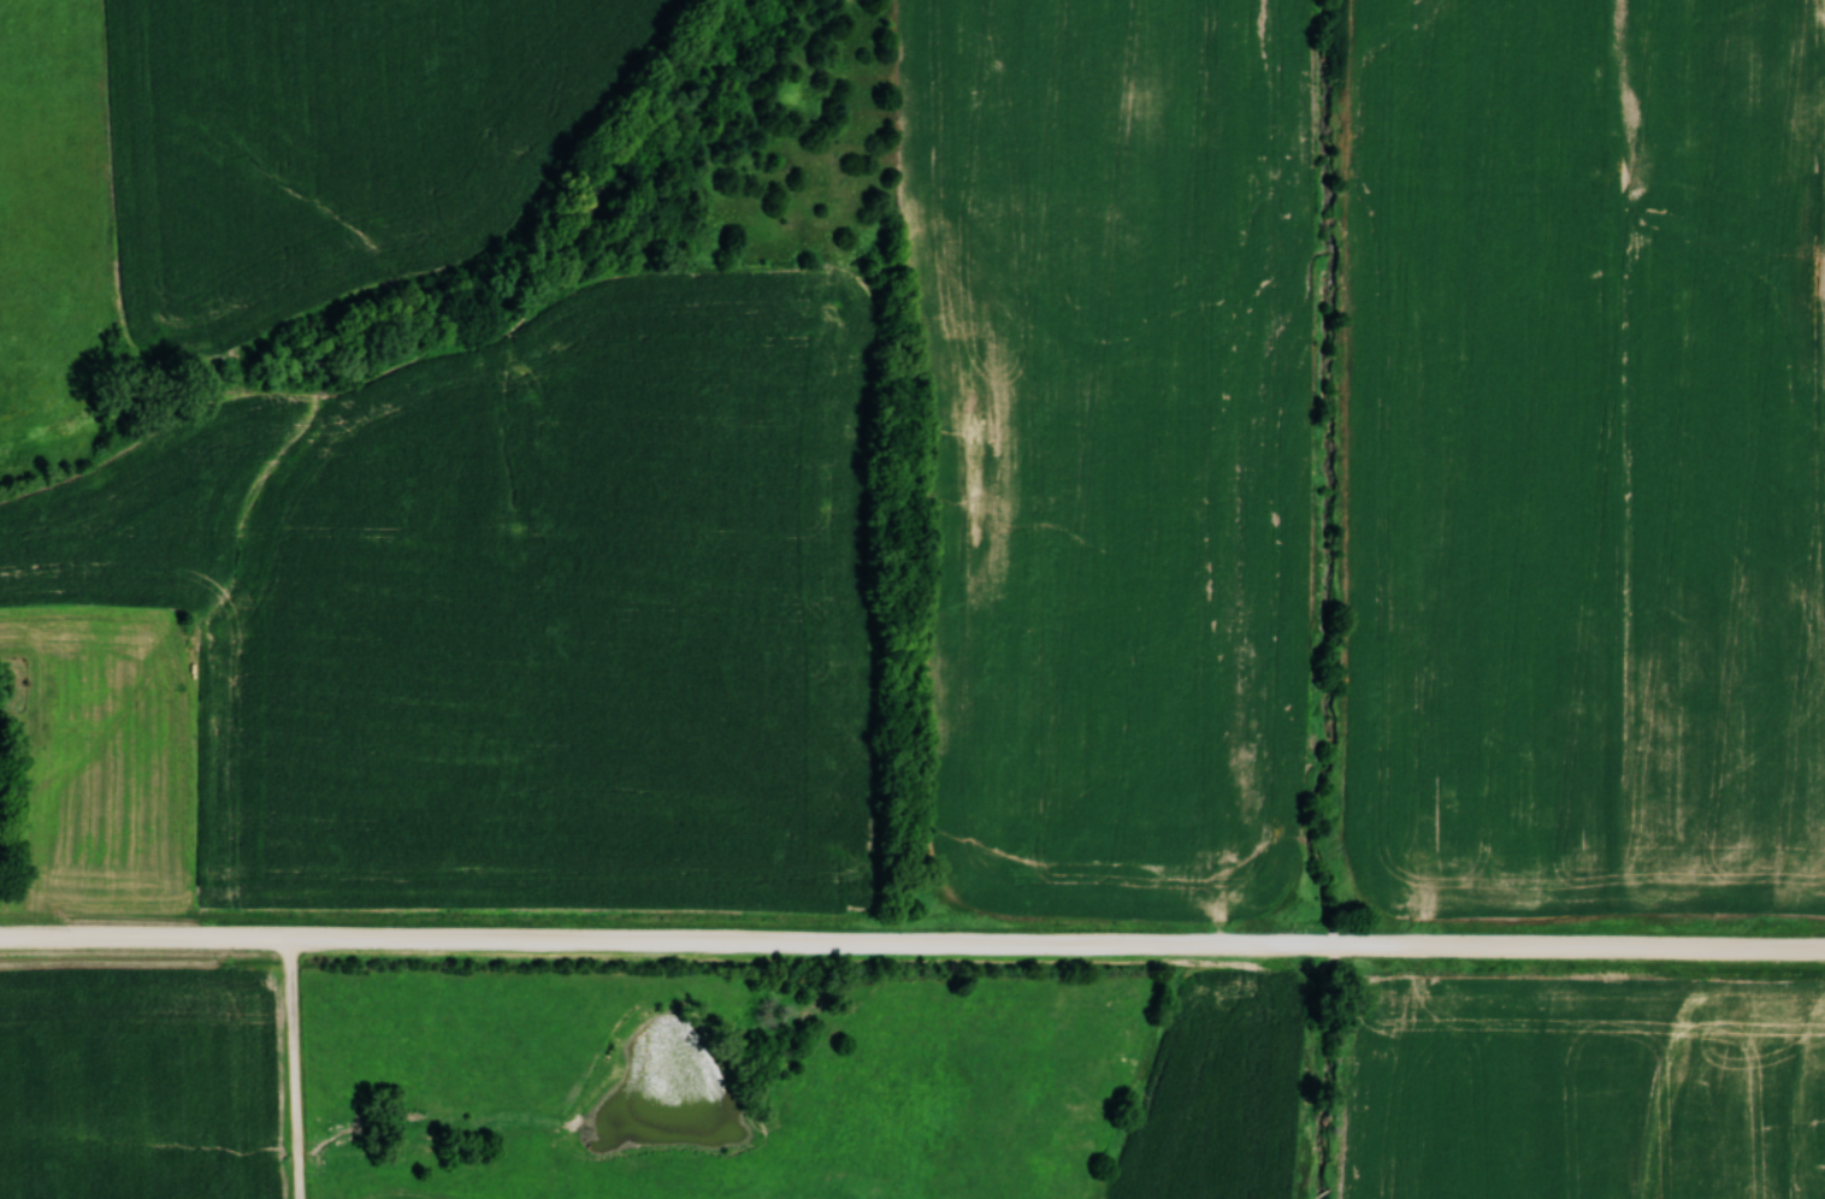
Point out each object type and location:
road: (911, 921)

